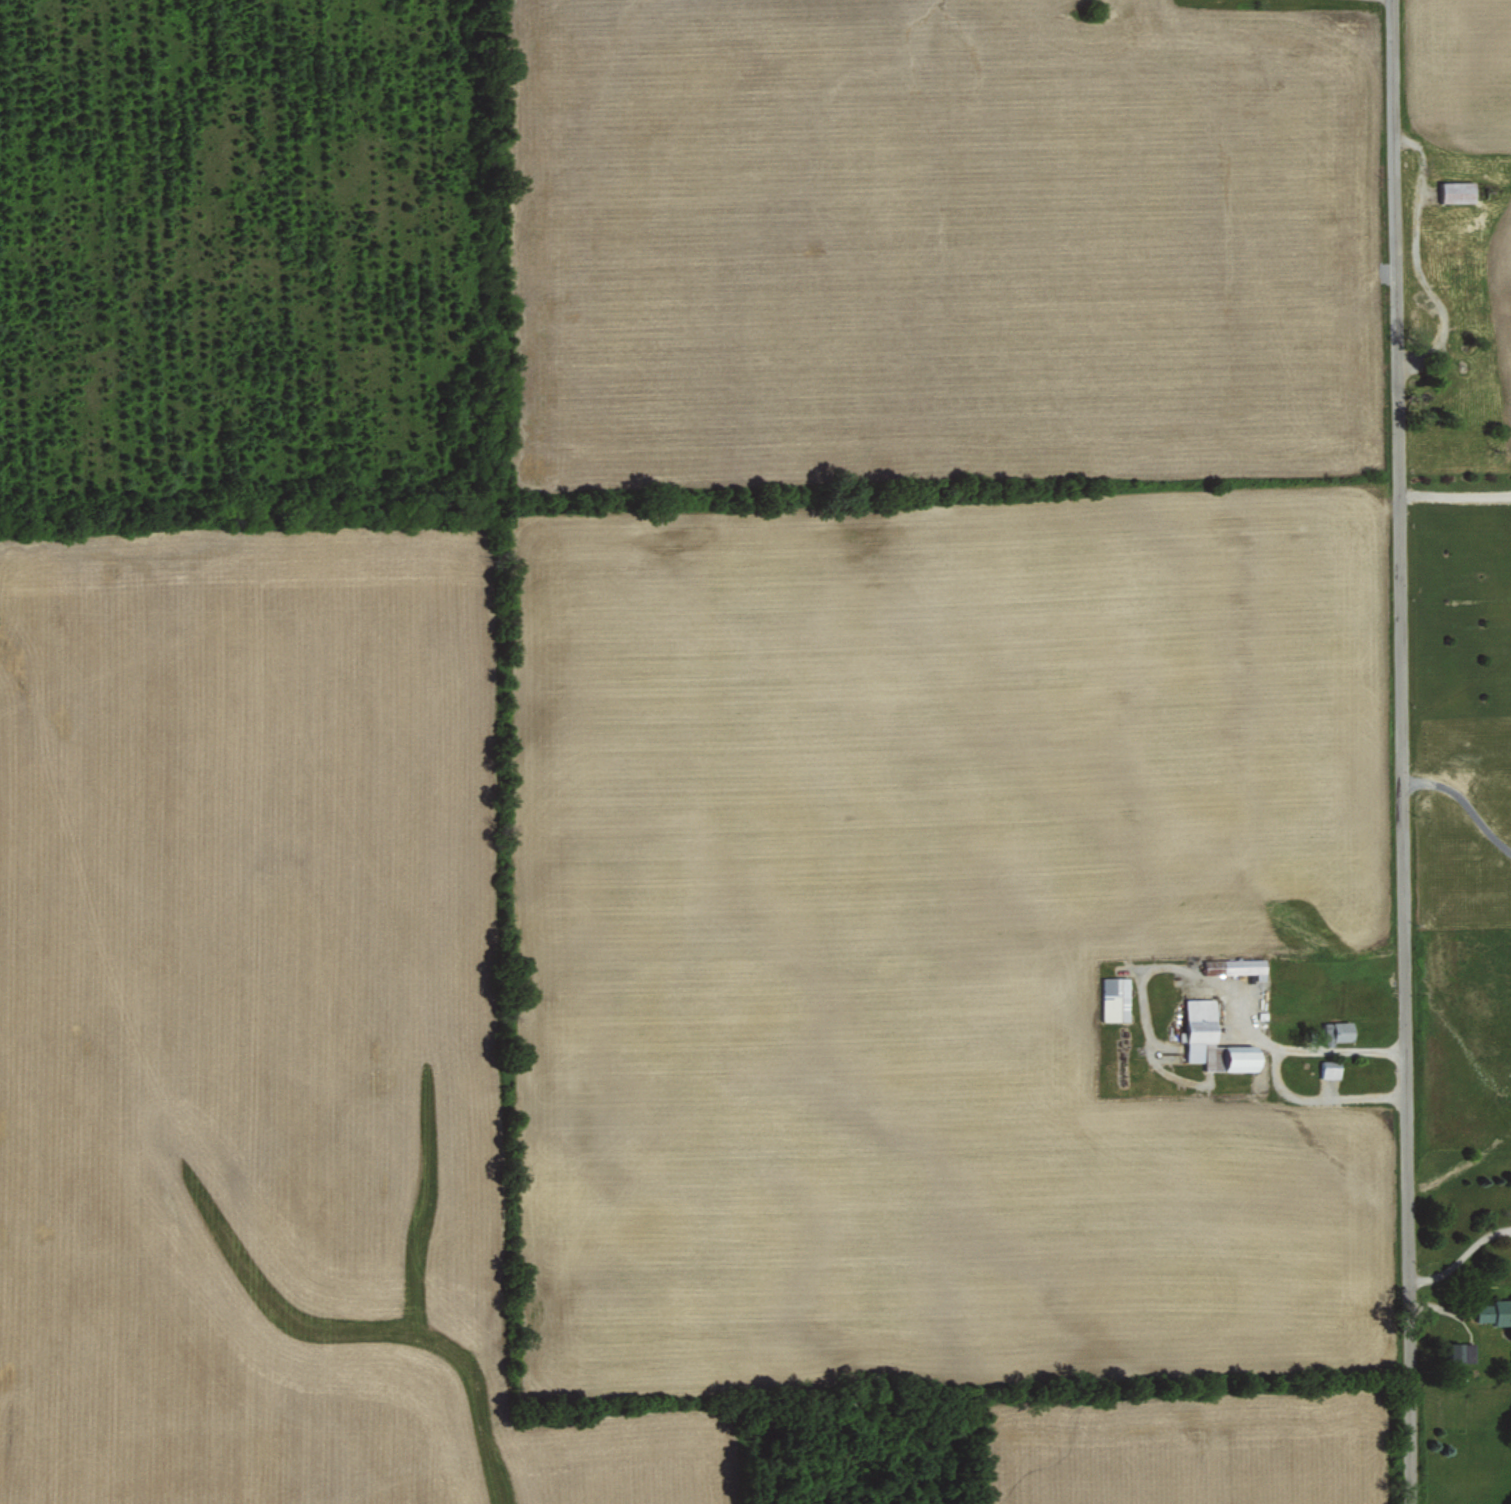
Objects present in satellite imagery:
building: (1458, 191)
road: (1453, 486)
road: (1401, 752)
road: (1465, 801)
building: (1235, 966)
building: (1116, 999)
building: (1340, 1031)
building: (1216, 1041)
building: (1330, 1069)
road: (1273, 1070)
road: (1460, 1257)
building: (1496, 1311)
building: (1457, 1350)

